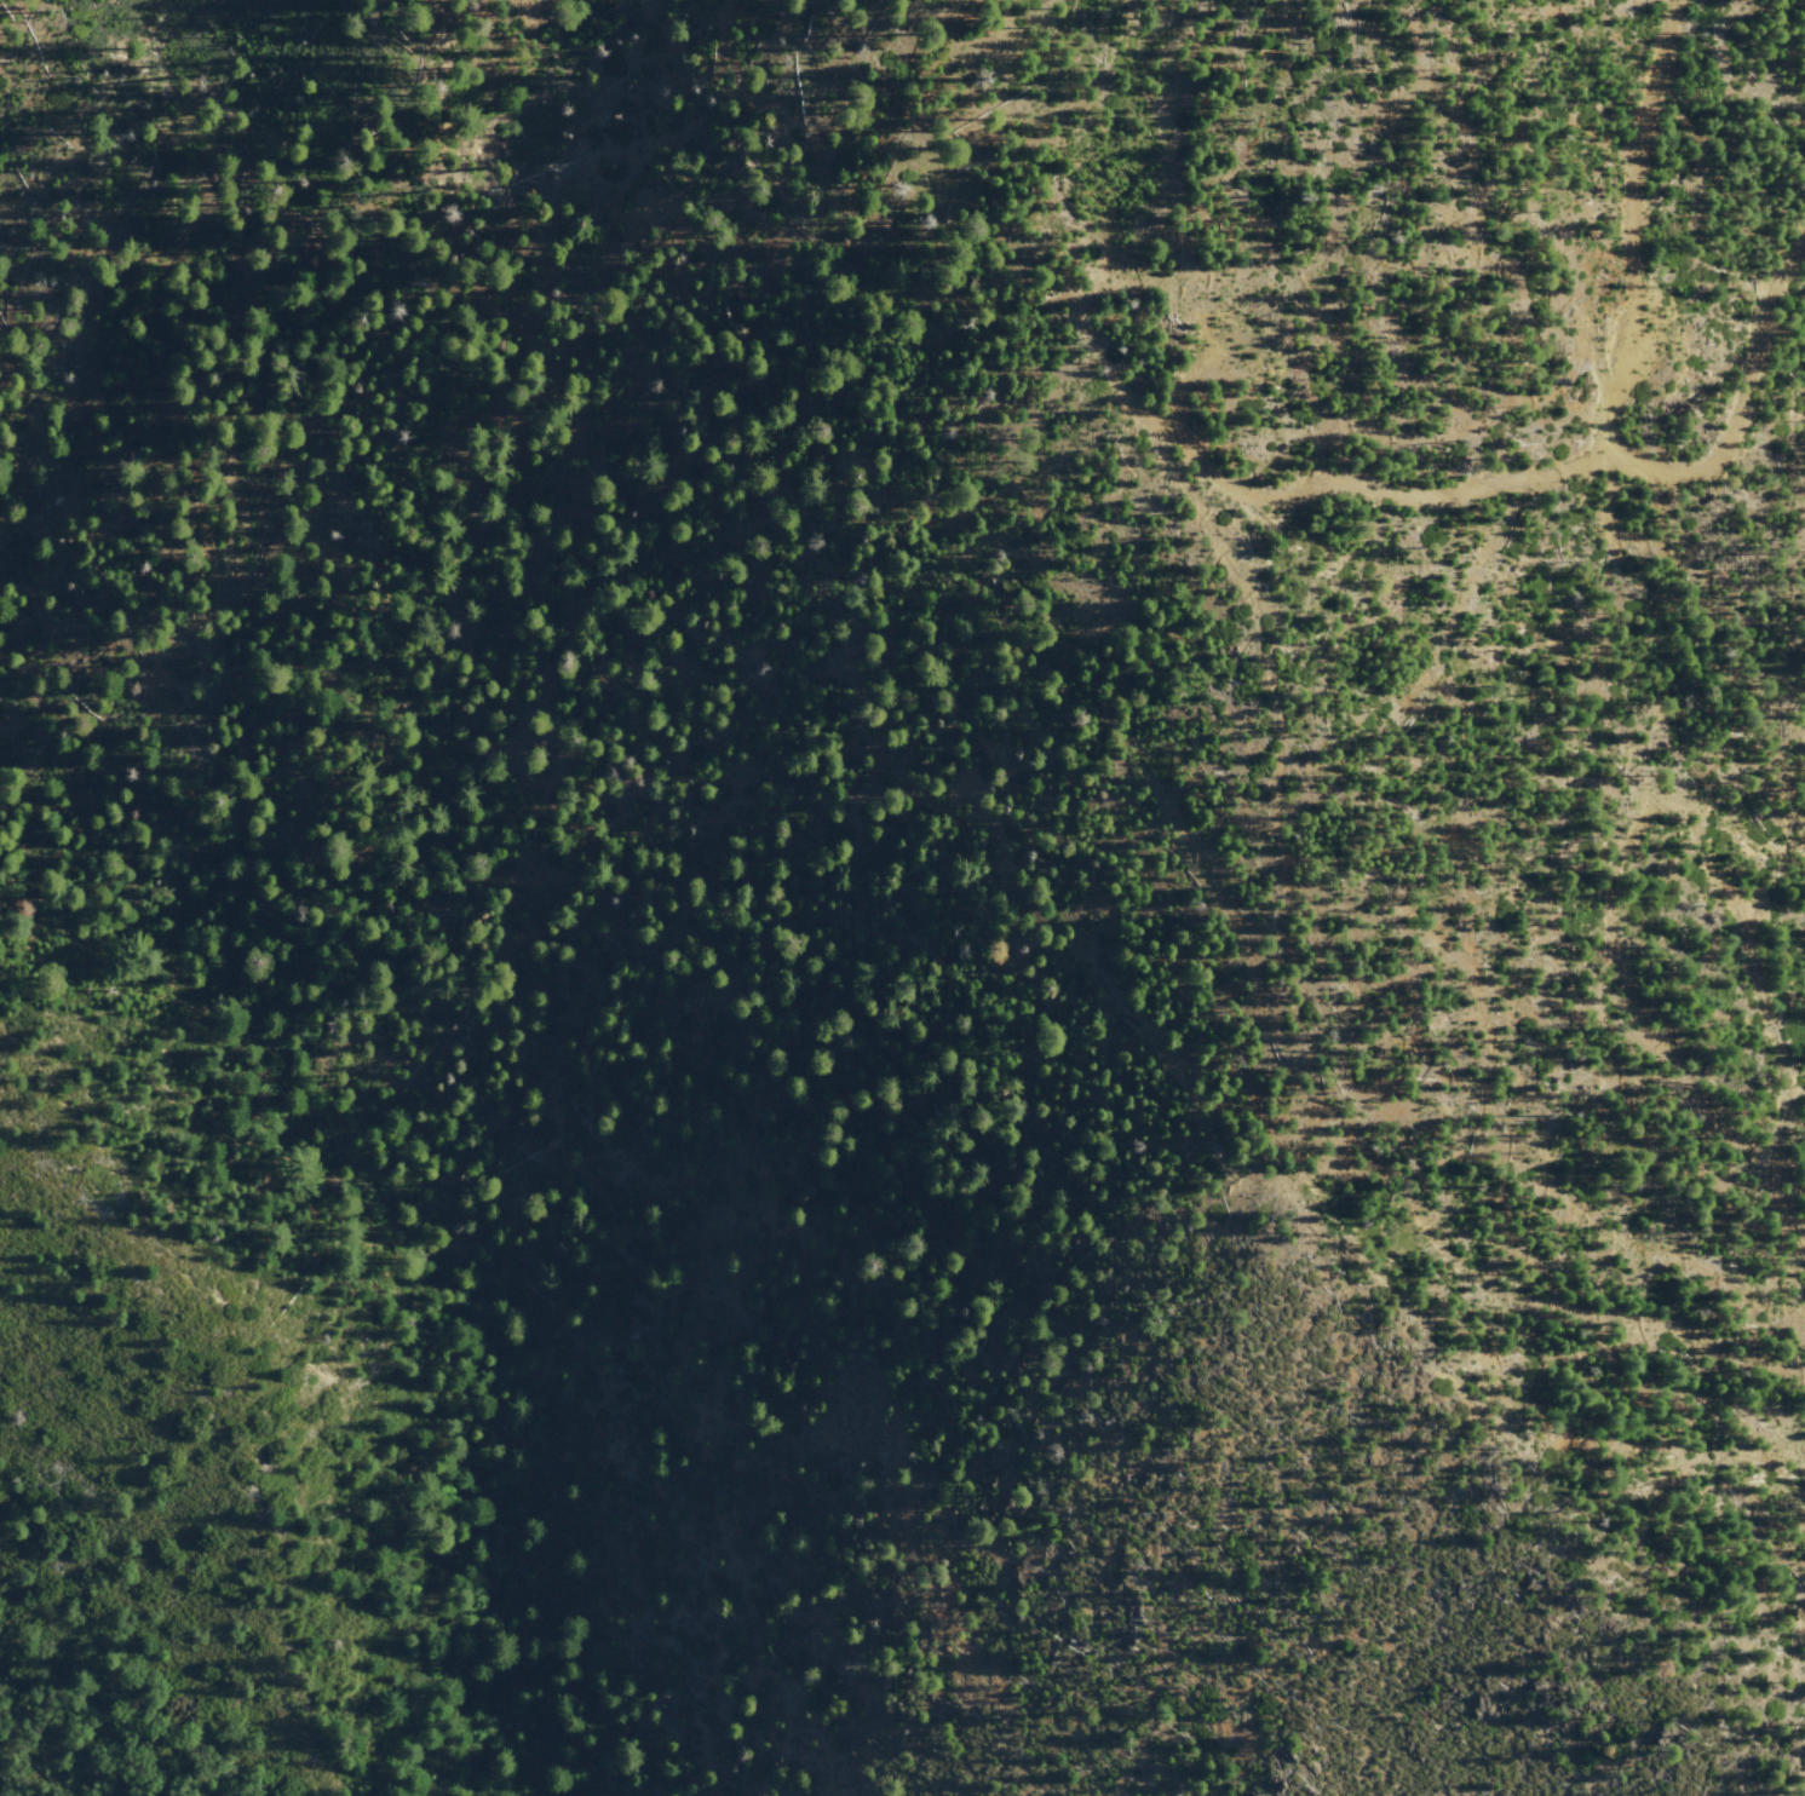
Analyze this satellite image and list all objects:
road: (30, 1761)

